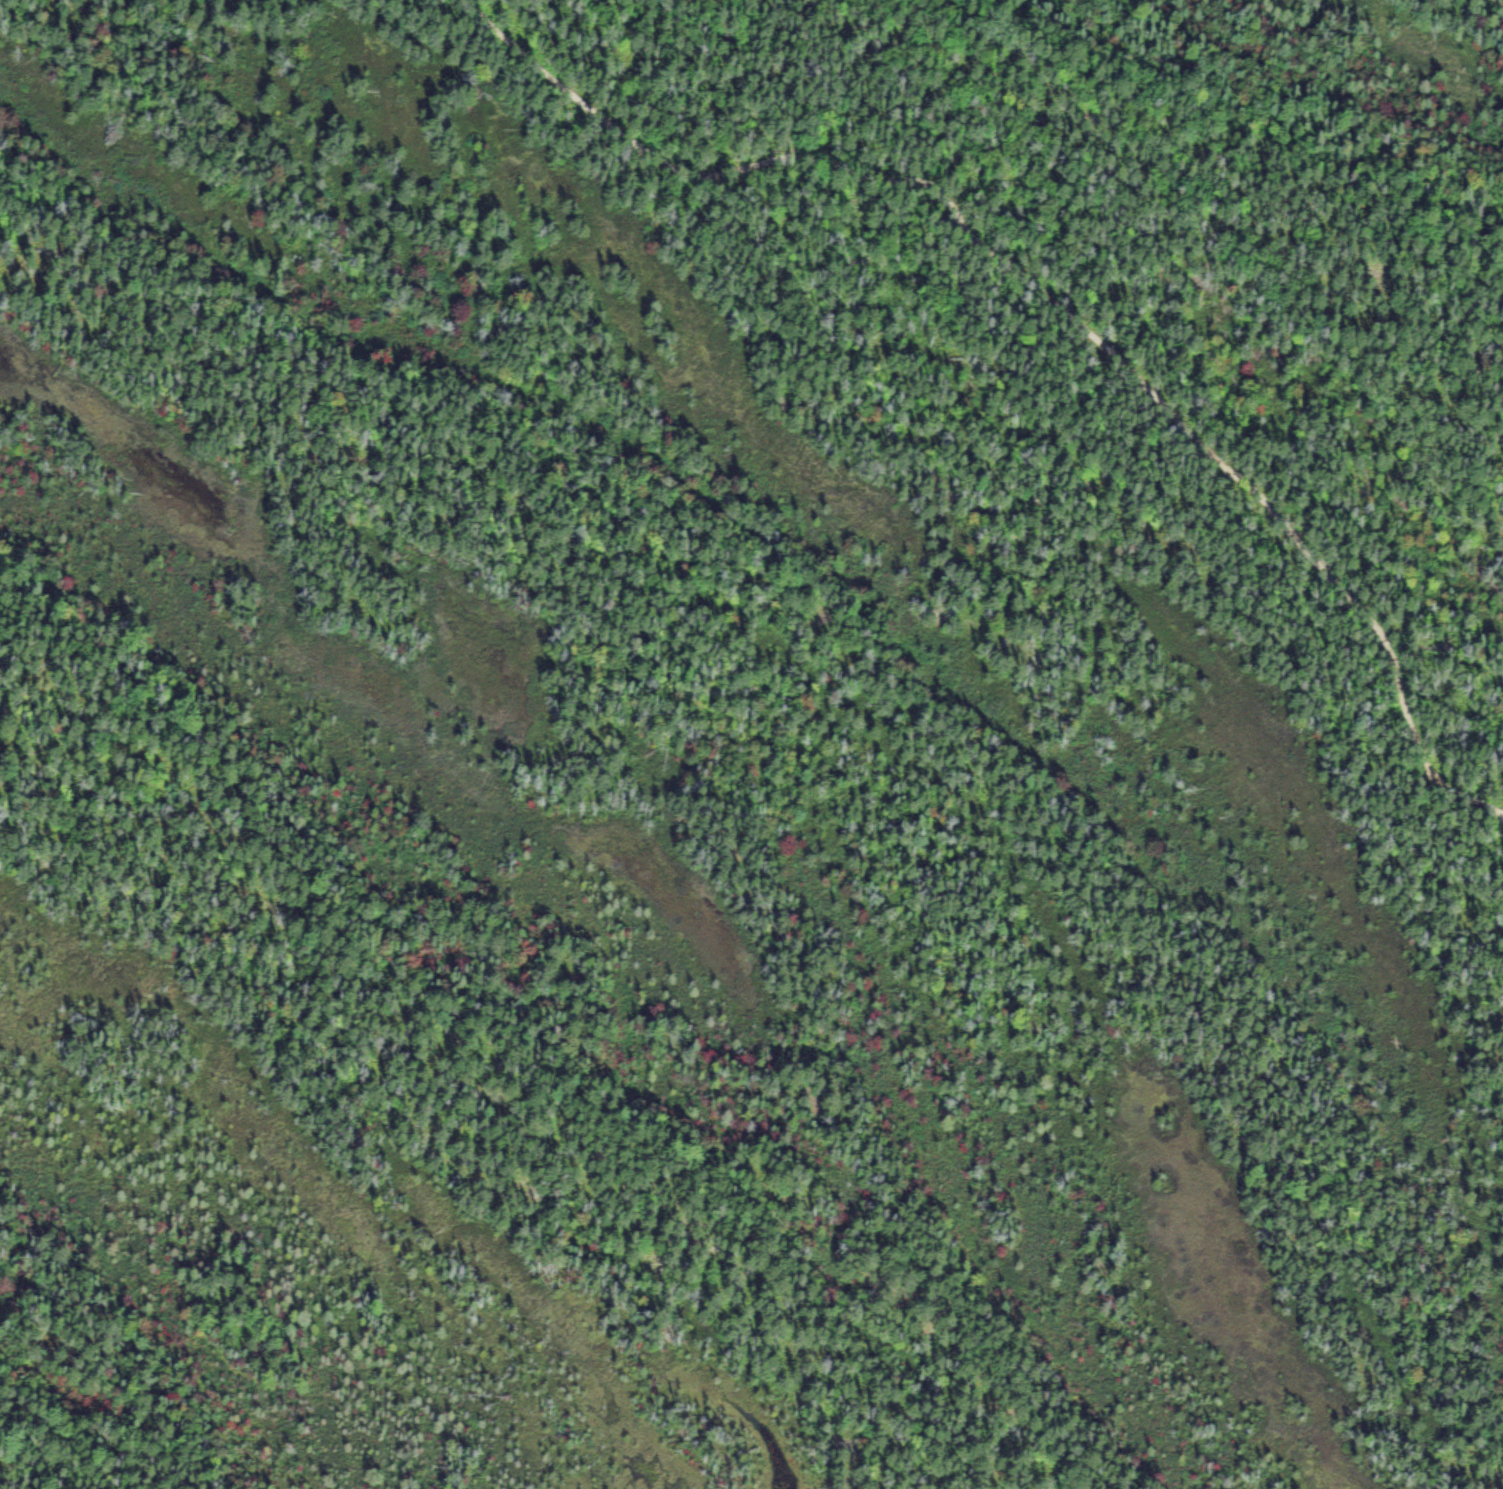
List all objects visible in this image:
road: (1051, 304)

